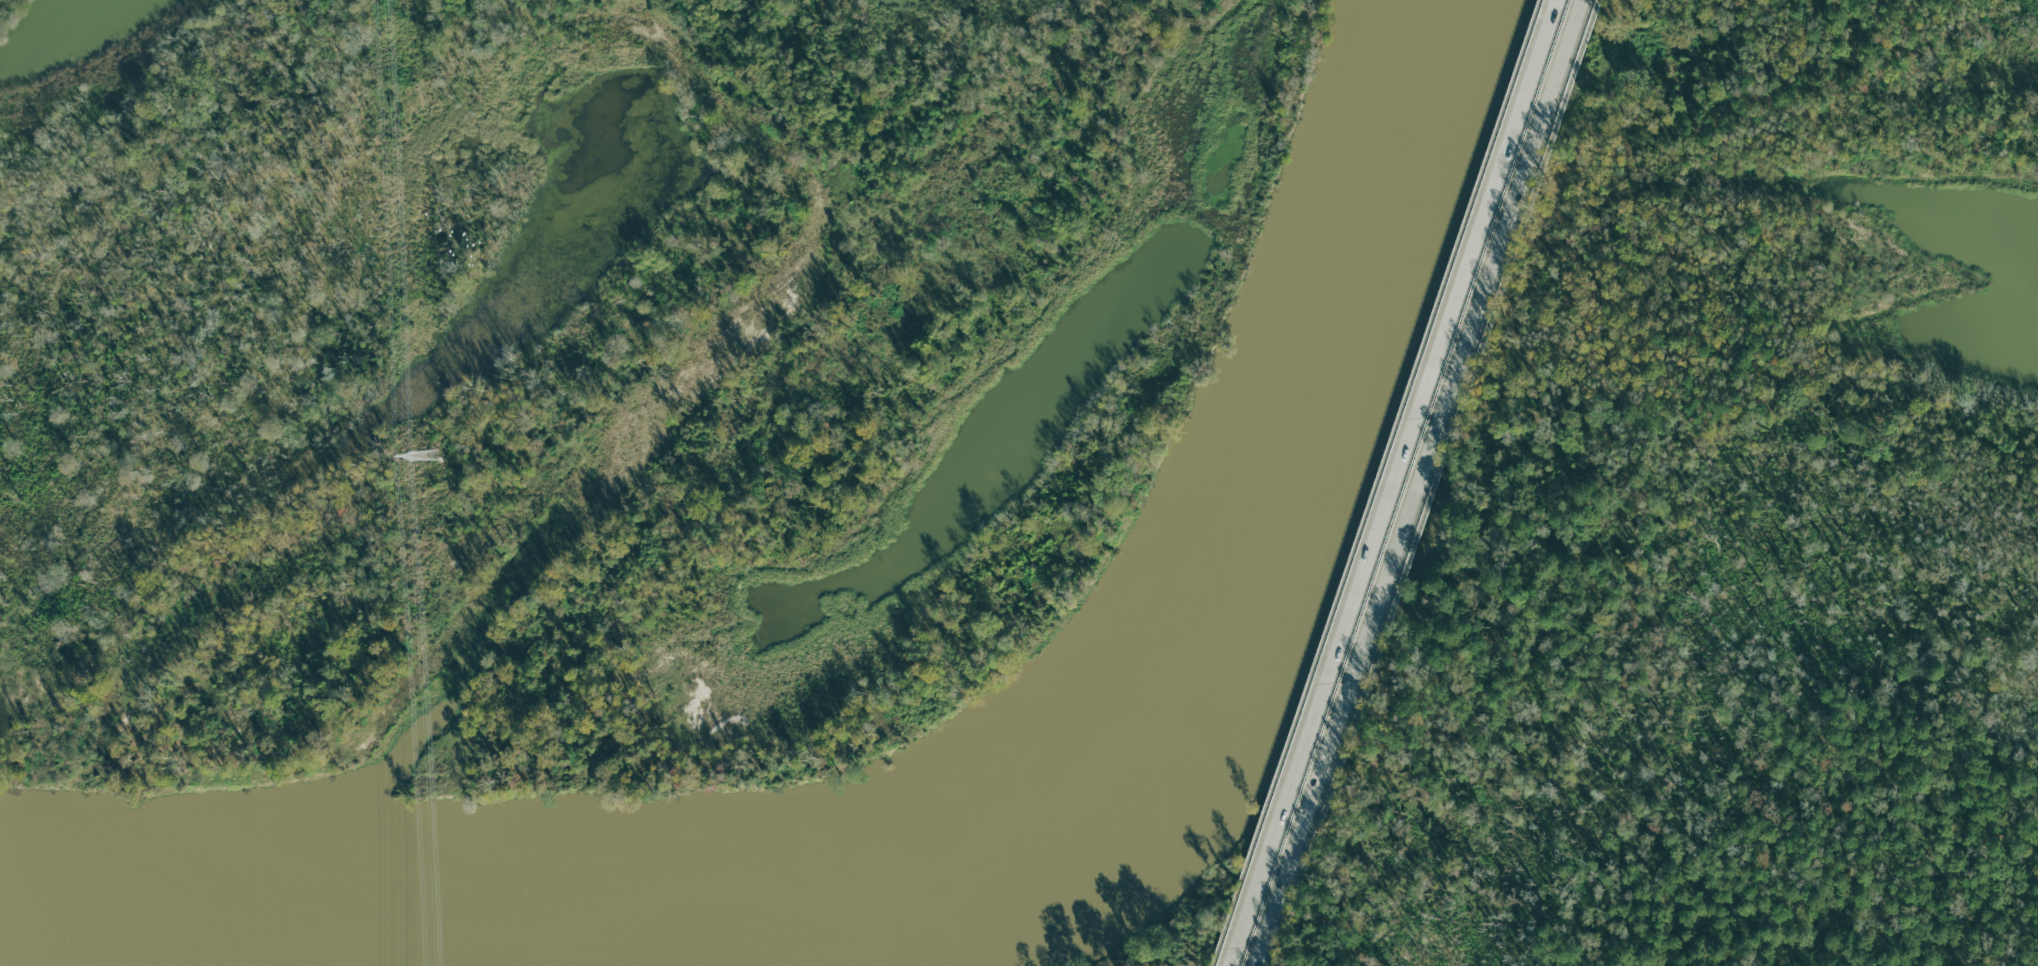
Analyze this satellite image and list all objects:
power tower: (424, 453)
road: (1390, 483)
road: (1419, 483)
road: (1435, 483)
river: (1200, 646)
river: (204, 931)

